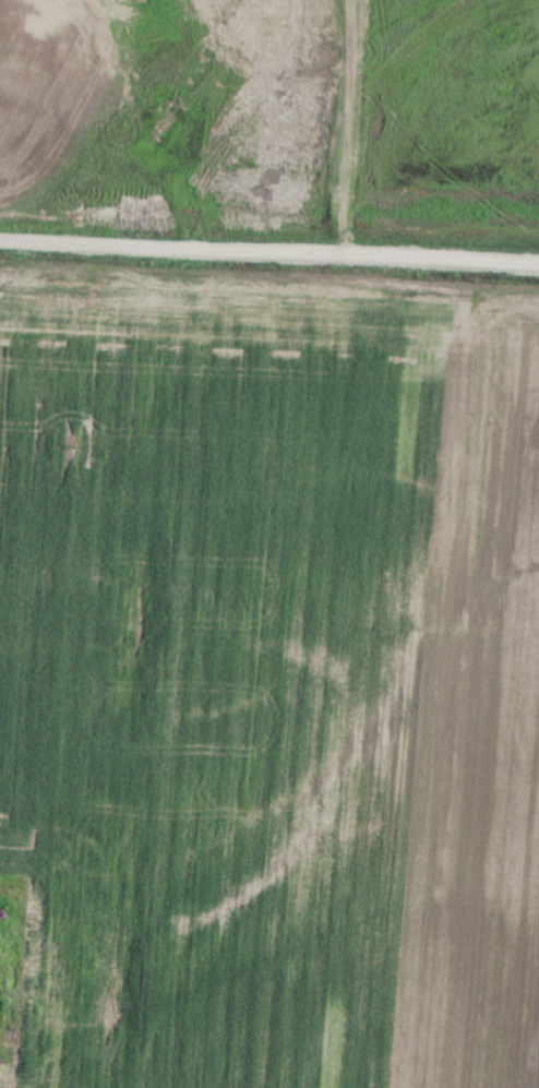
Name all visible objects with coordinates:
road: (268, 259)

